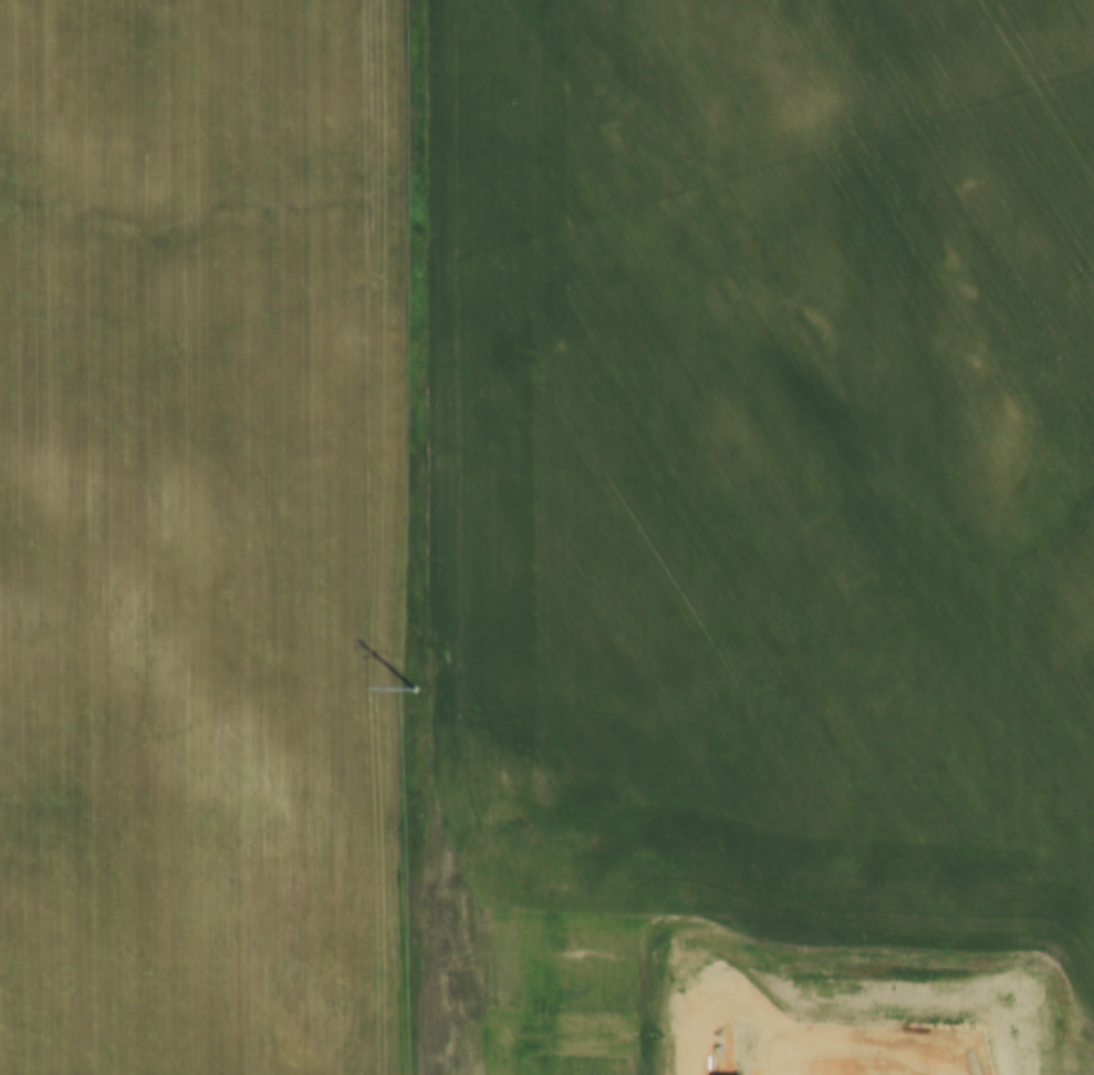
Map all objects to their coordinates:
power tower: (418, 683)
building: (721, 1074)

